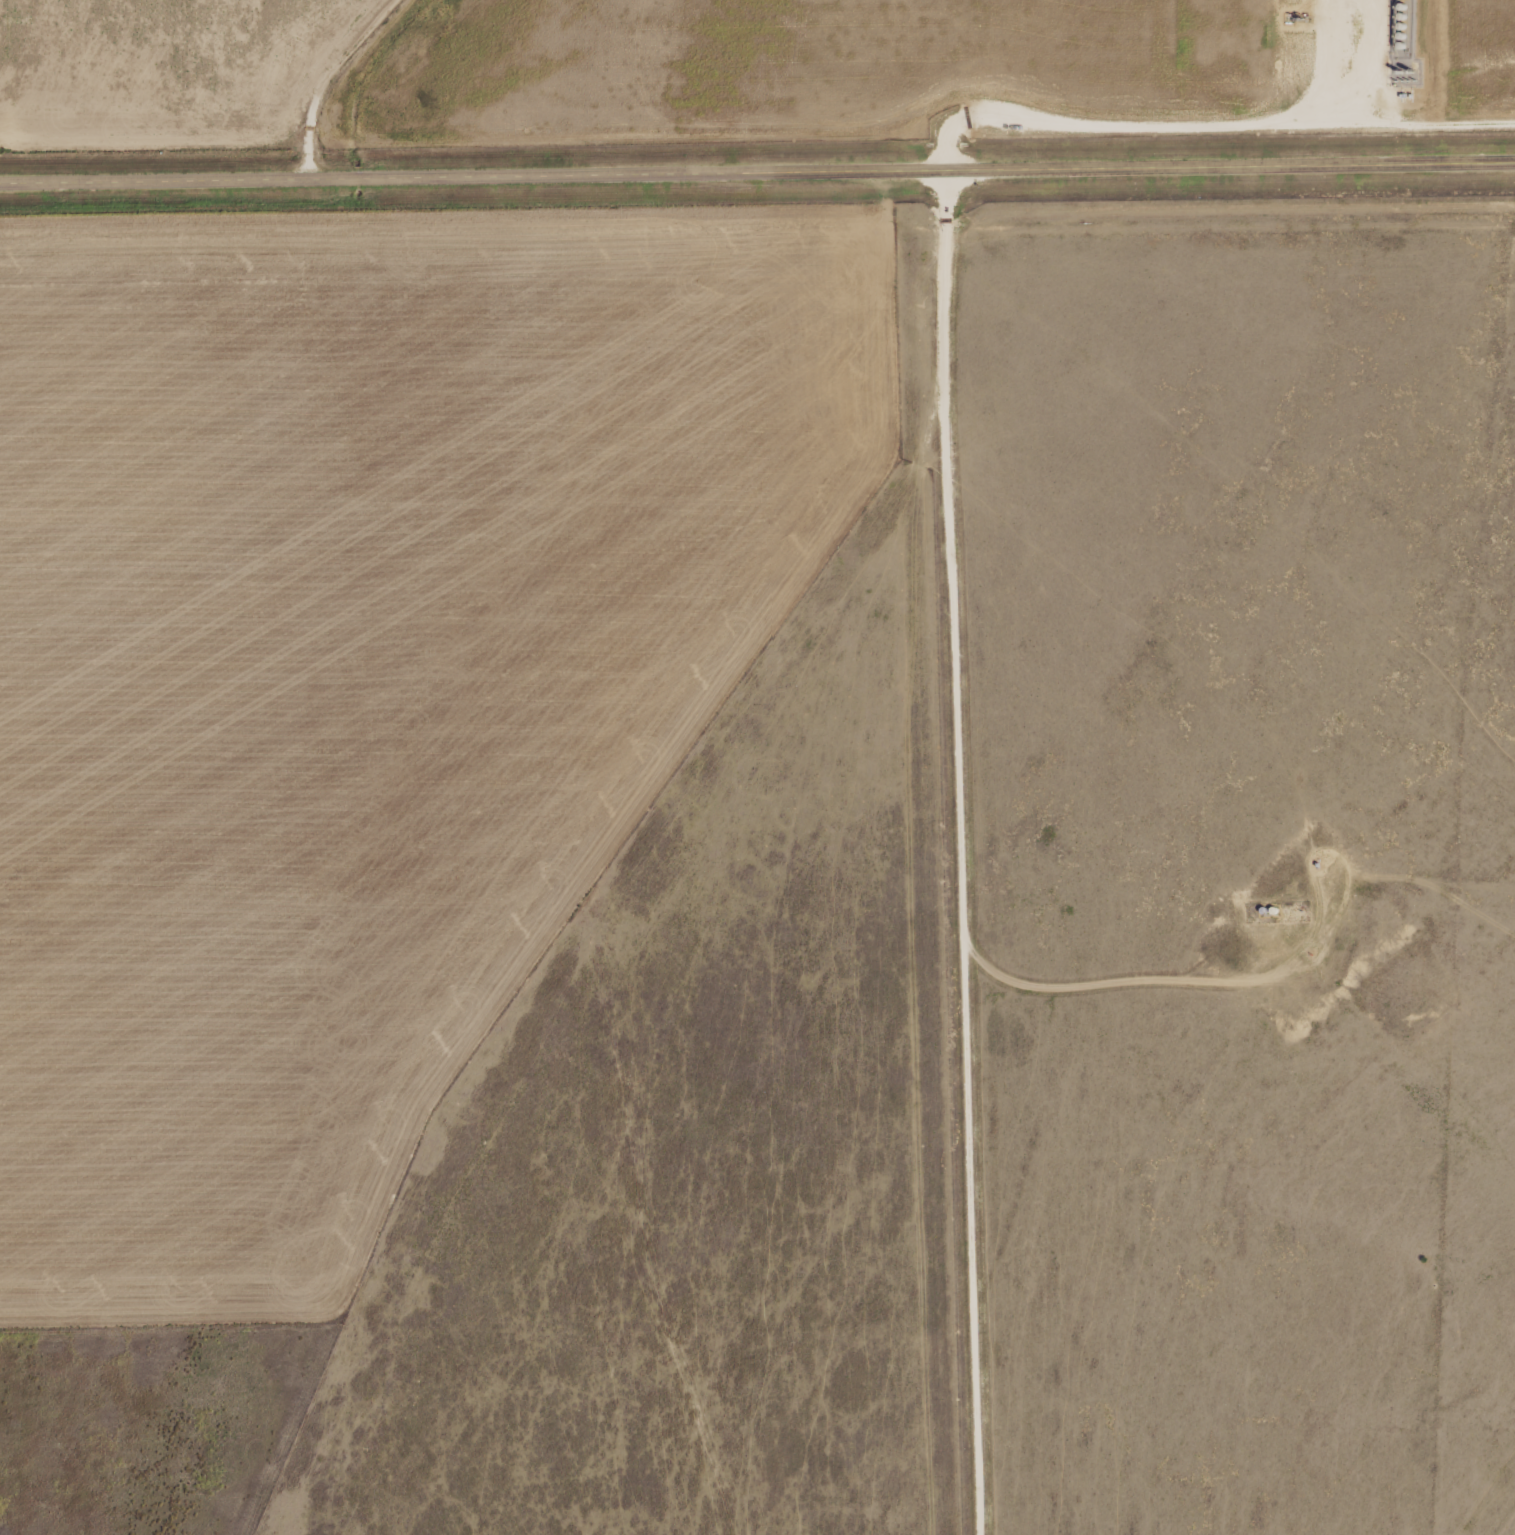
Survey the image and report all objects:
petroleum well: (1297, 15)
road: (1342, 59)
road: (1208, 121)
road: (757, 173)

